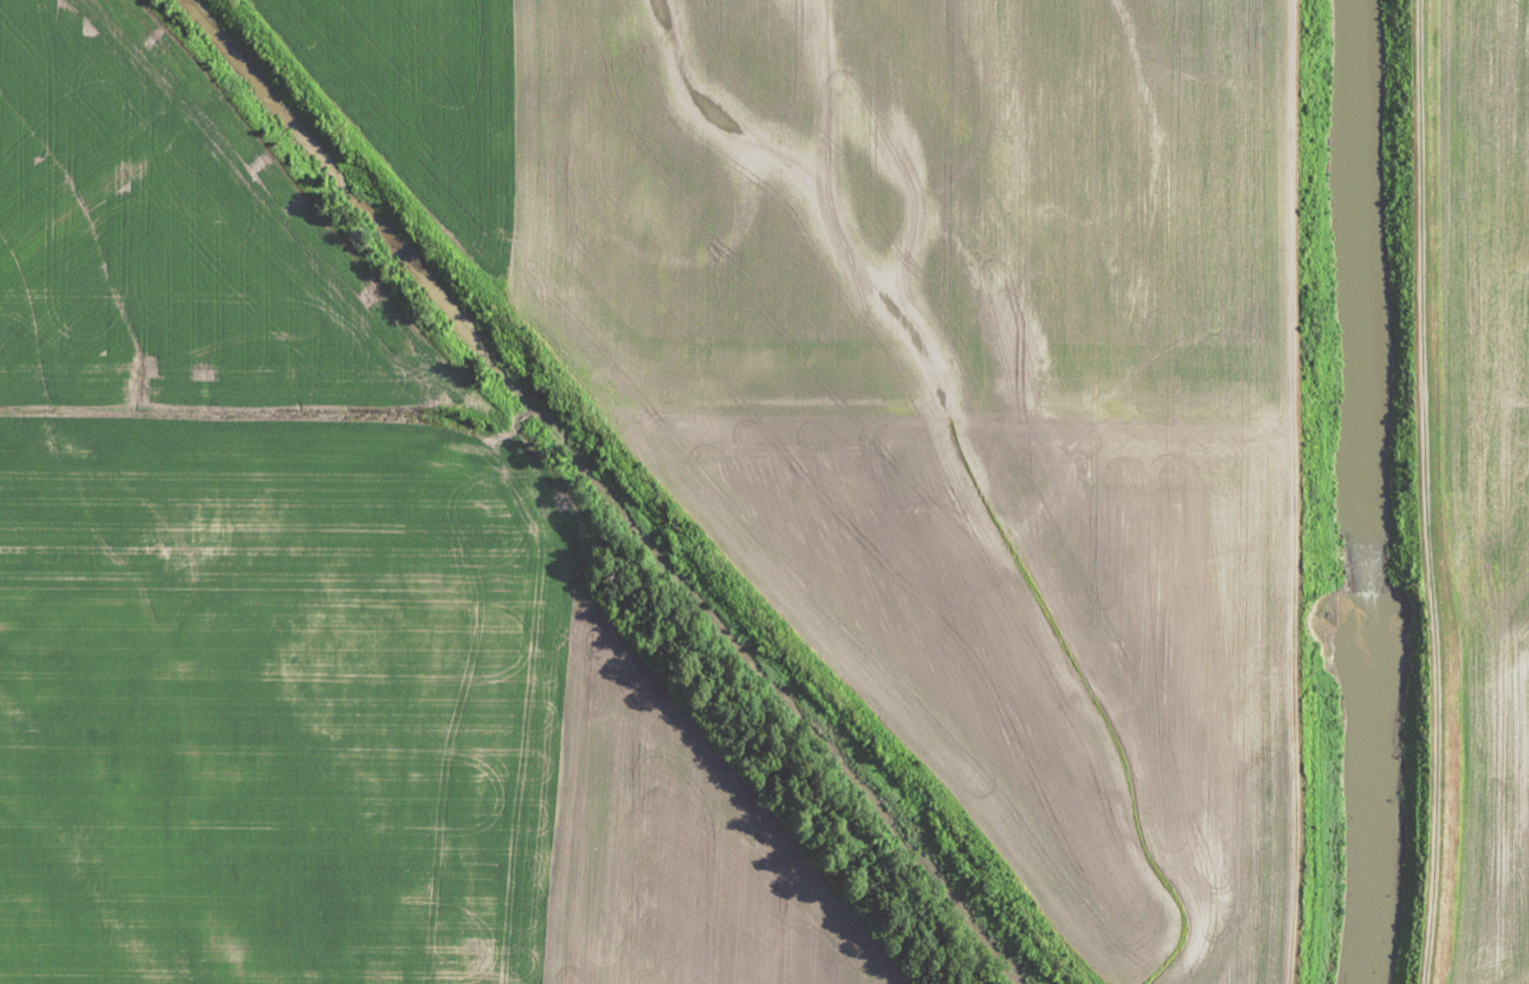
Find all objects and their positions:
road: (1296, 492)
river: (1368, 492)

